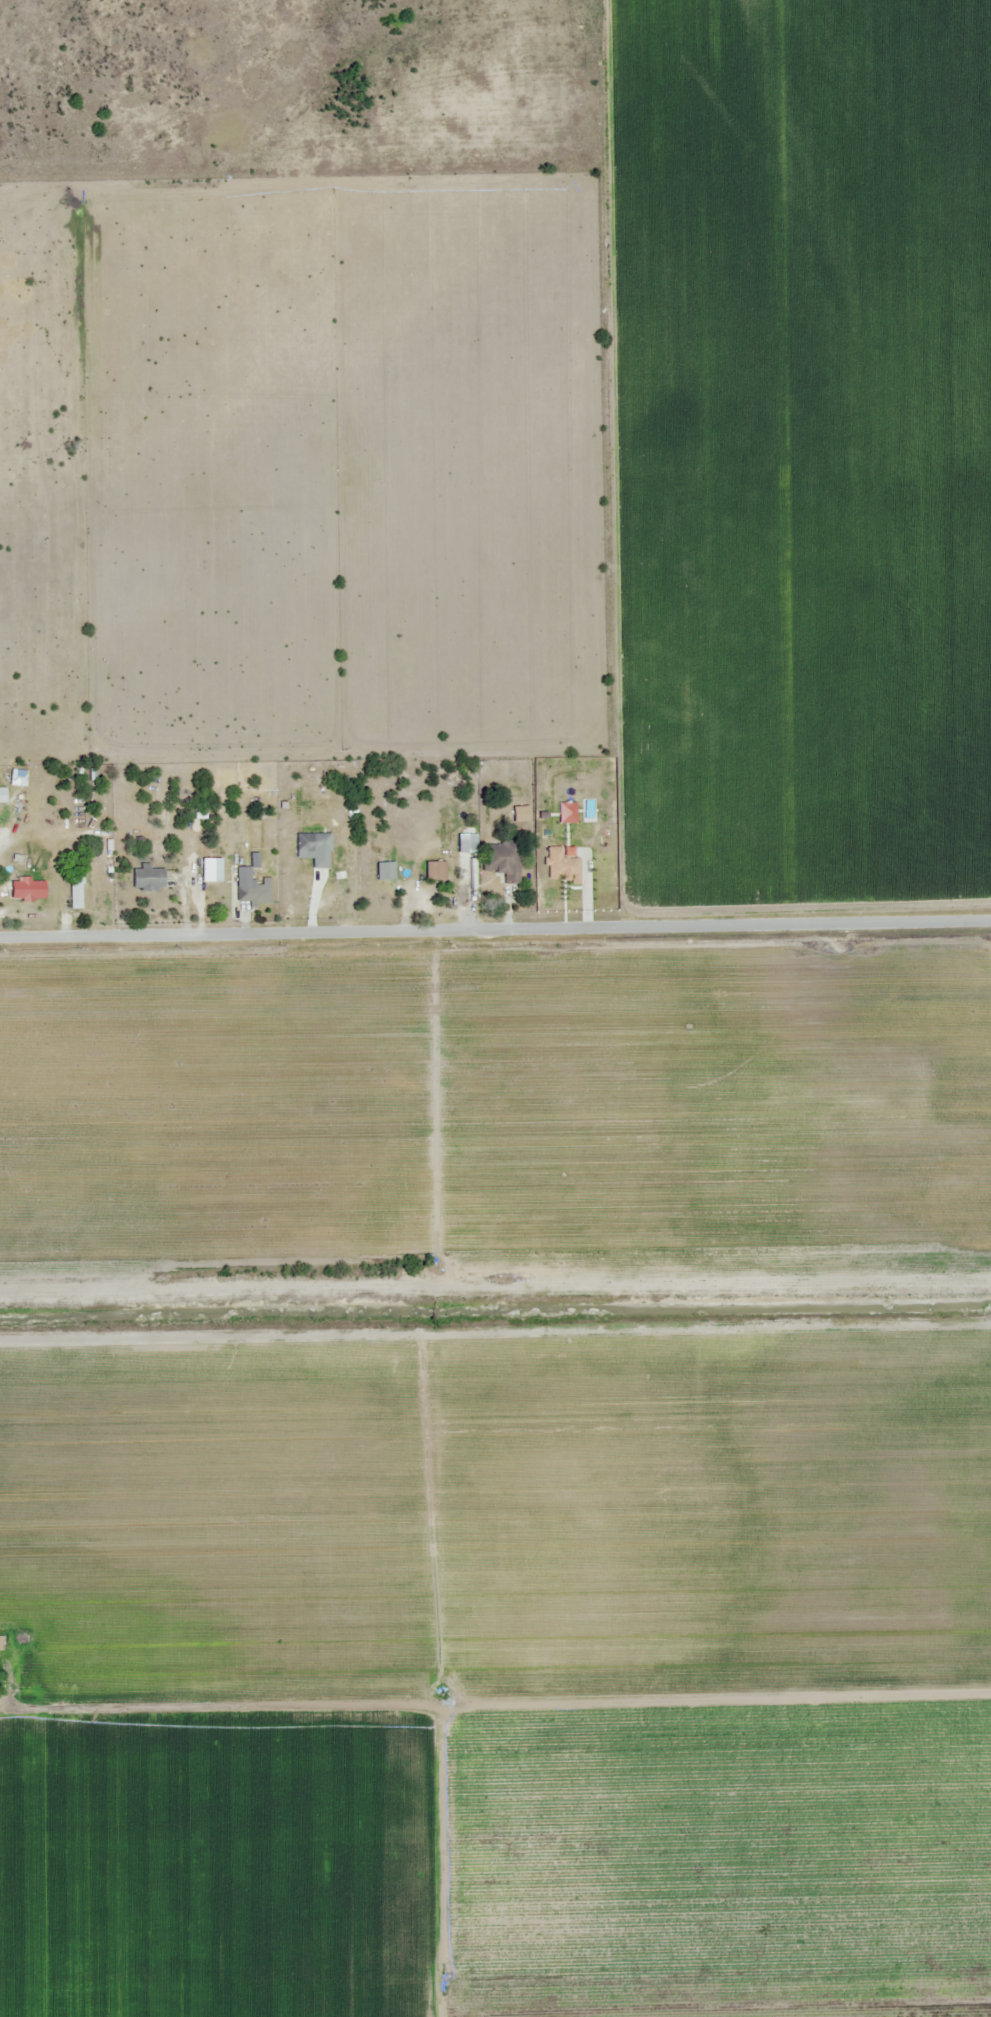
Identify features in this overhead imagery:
building: (16, 777)
building: (1, 795)
building: (303, 842)
building: (500, 858)
building: (209, 869)
building: (434, 869)
building: (146, 877)
building: (25, 889)
building: (73, 890)
building: (252, 891)
road: (495, 928)

